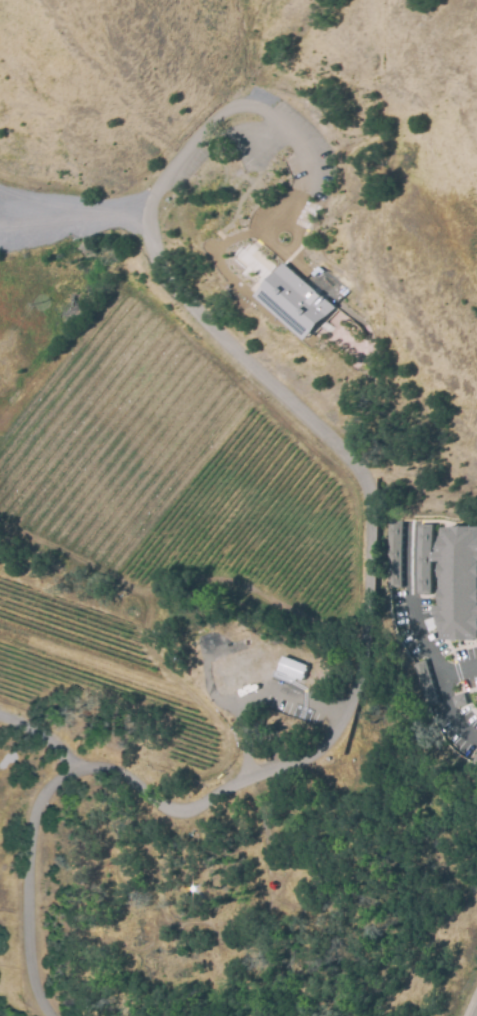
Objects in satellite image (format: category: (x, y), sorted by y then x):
road: (74, 219)
building: (296, 301)
building: (392, 553)
building: (423, 558)
building: (459, 581)
road: (366, 600)
road: (413, 626)
building: (292, 667)
building: (421, 681)
road: (254, 696)
road: (447, 712)
road: (39, 736)
building: (473, 758)
building: (129, 968)

